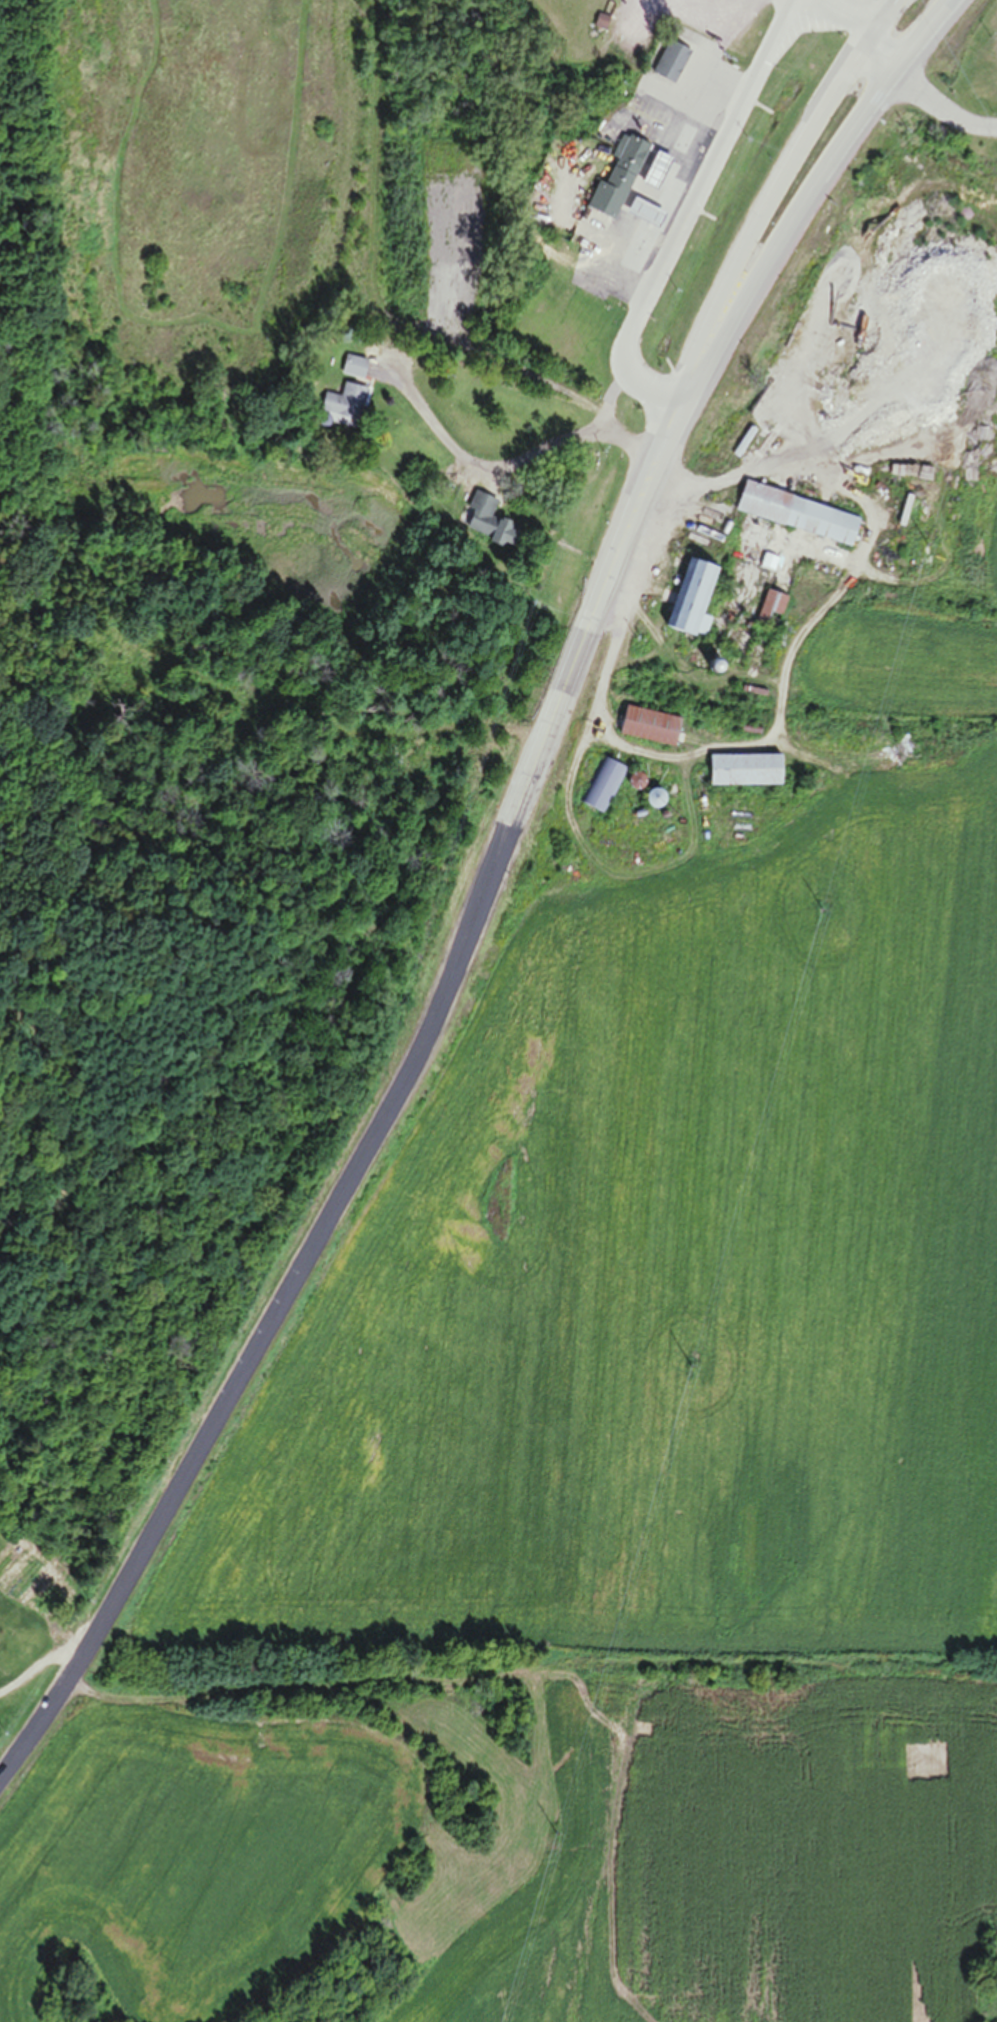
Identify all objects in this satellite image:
road: (945, 13)
road: (846, 22)
road: (926, 35)
road: (885, 57)
building: (670, 64)
road: (944, 109)
road: (712, 155)
building: (656, 171)
gas station: (656, 171)
building: (617, 179)
building: (643, 214)
road: (746, 252)
road: (604, 271)
road: (750, 290)
building: (354, 370)
road: (627, 377)
building: (343, 410)
road: (605, 424)
road: (474, 464)
building: (797, 517)
building: (489, 525)
building: (692, 604)
building: (770, 611)
building: (650, 730)
building: (745, 774)
building: (605, 788)
road: (355, 1171)
building: (4, 1636)
road: (38, 1660)

